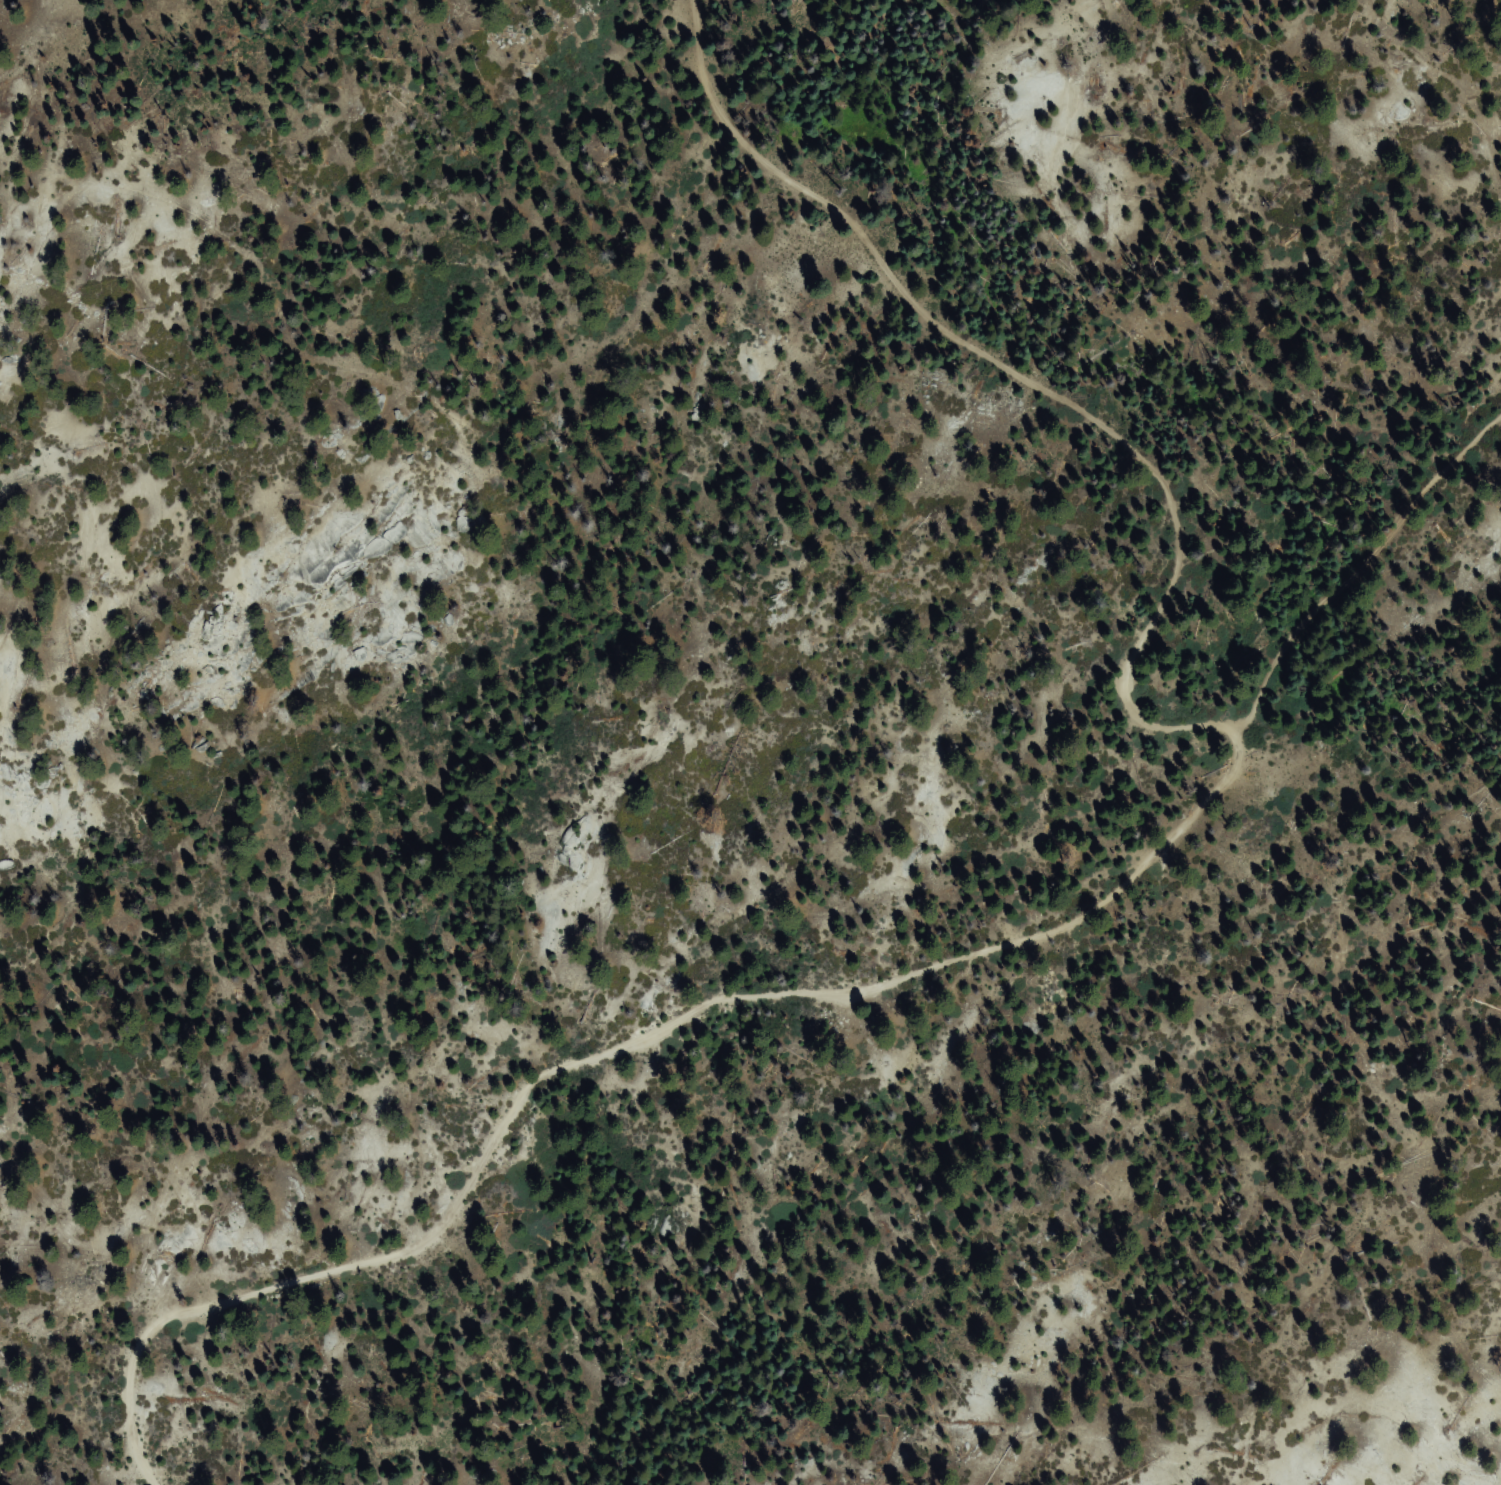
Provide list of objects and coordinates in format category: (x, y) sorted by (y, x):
road: (1332, 591)
road: (1112, 902)

